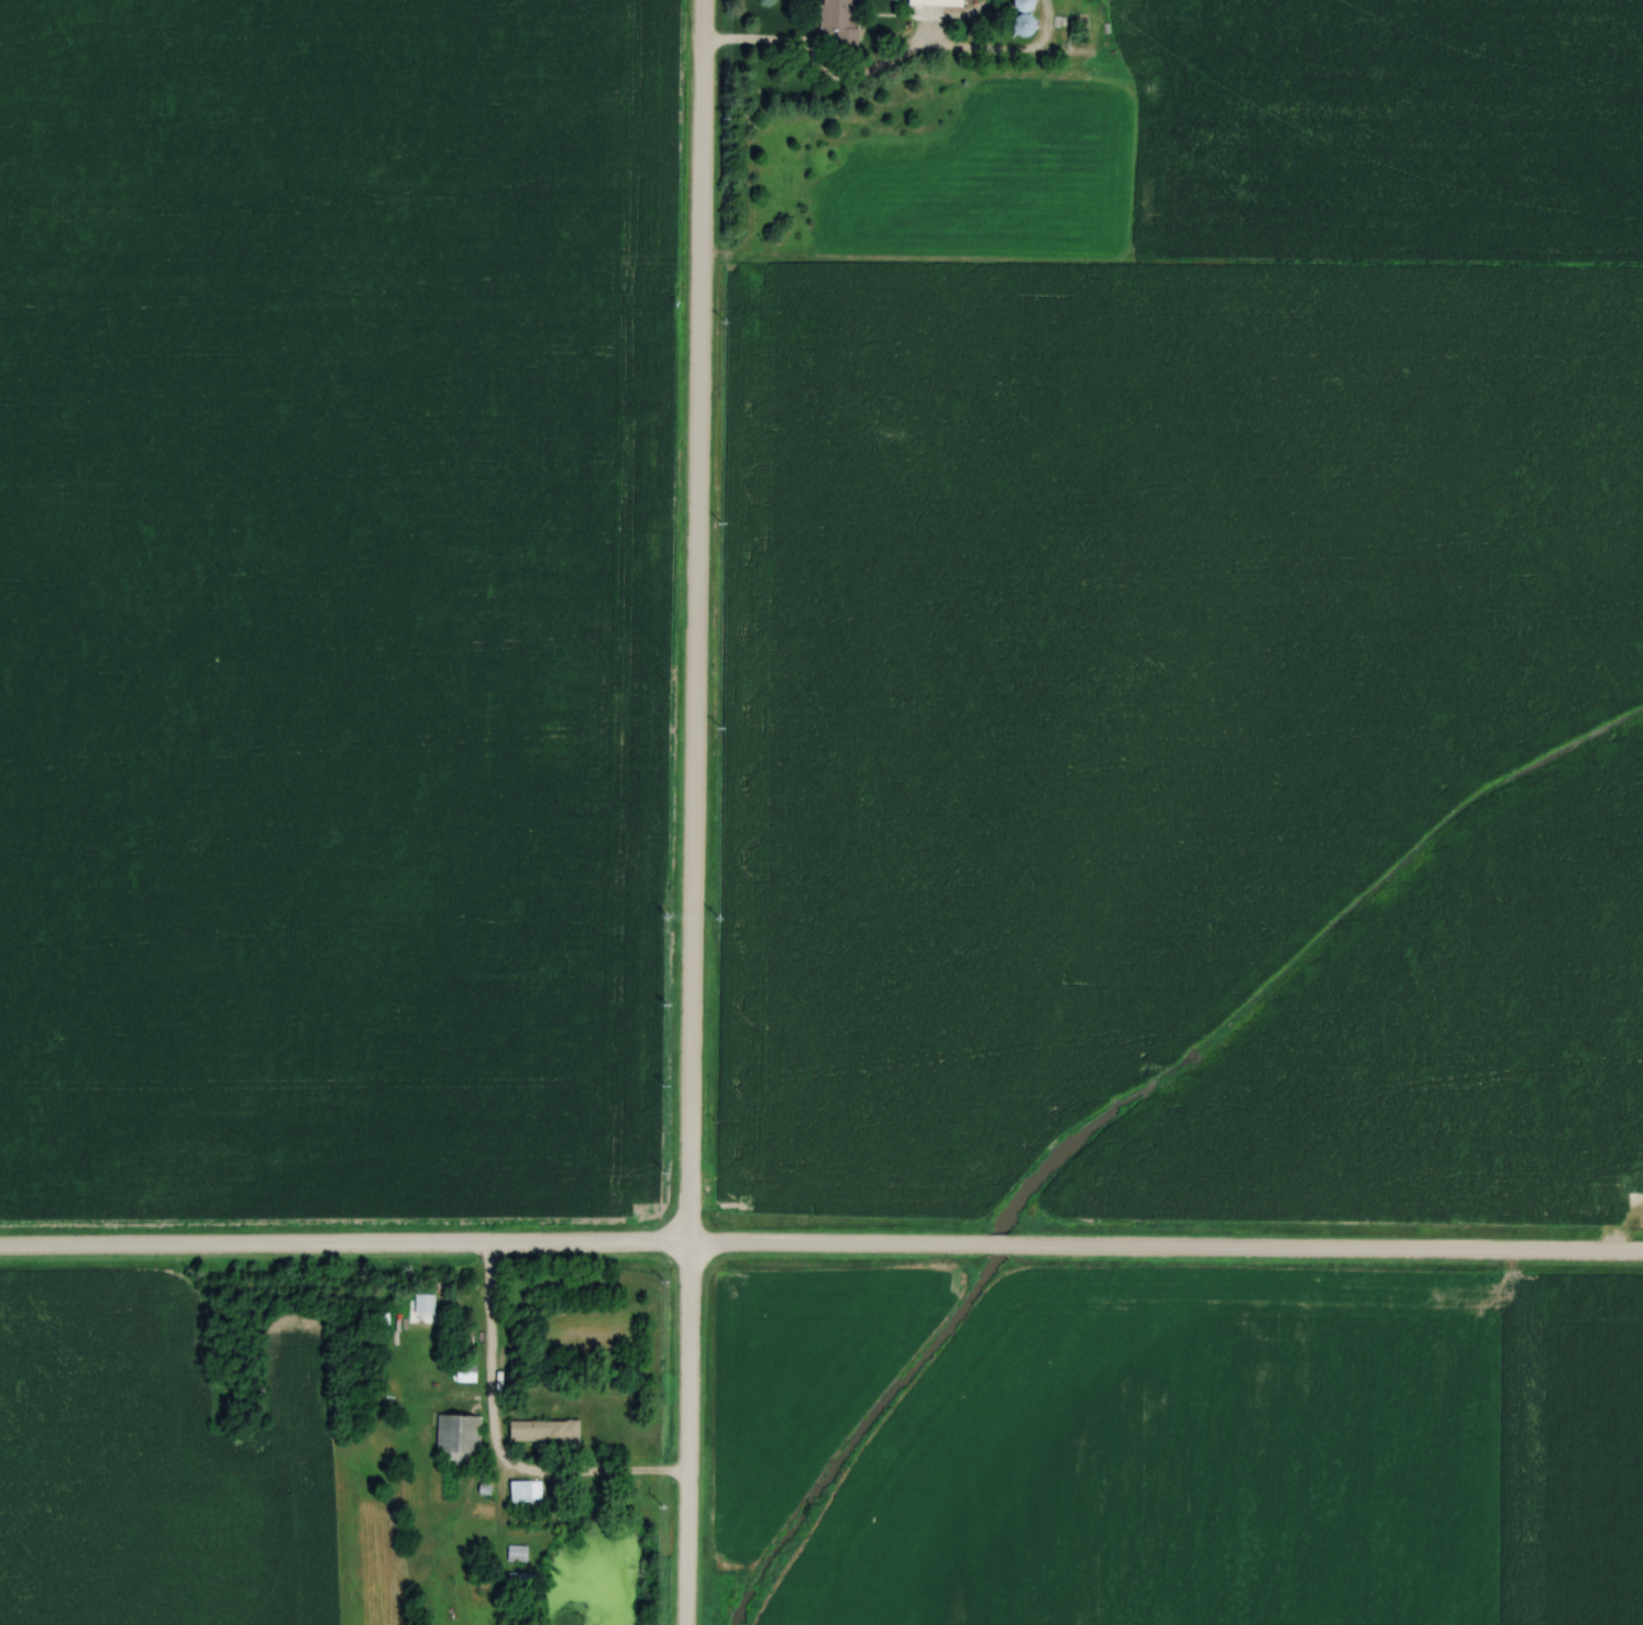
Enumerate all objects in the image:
building: (936, 2)
building: (1023, 4)
building: (836, 15)
road: (692, 811)
road: (821, 1247)
building: (423, 1304)
road: (487, 1342)
building: (465, 1372)
building: (542, 1429)
building: (457, 1438)
building: (521, 1493)

